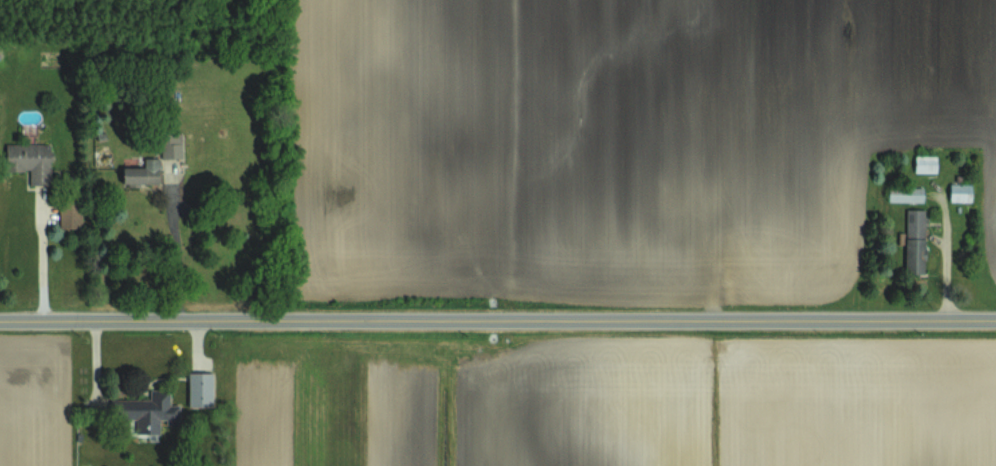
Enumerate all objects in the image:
building: (926, 163)
building: (960, 192)
building: (906, 193)
building: (915, 241)
road: (181, 256)
road: (45, 259)
road: (498, 322)

